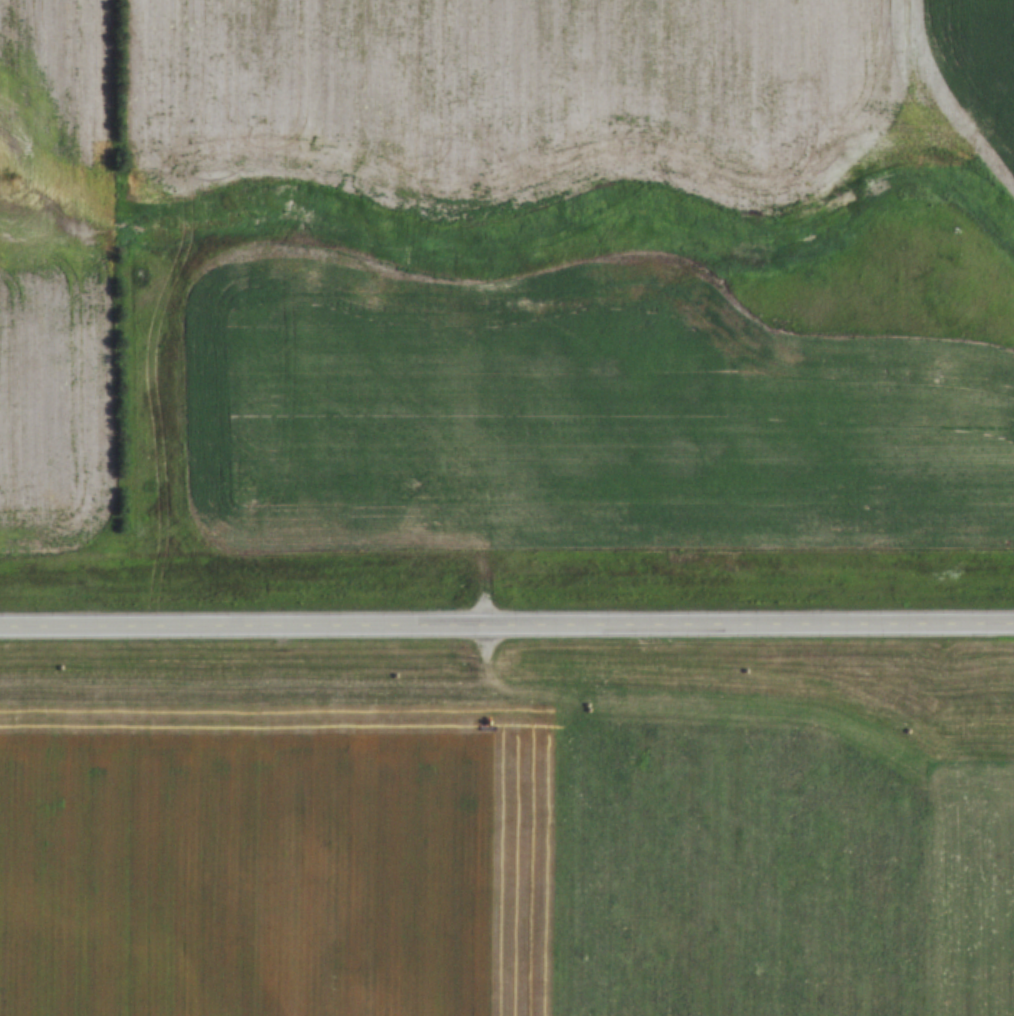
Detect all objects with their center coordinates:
road: (506, 627)

